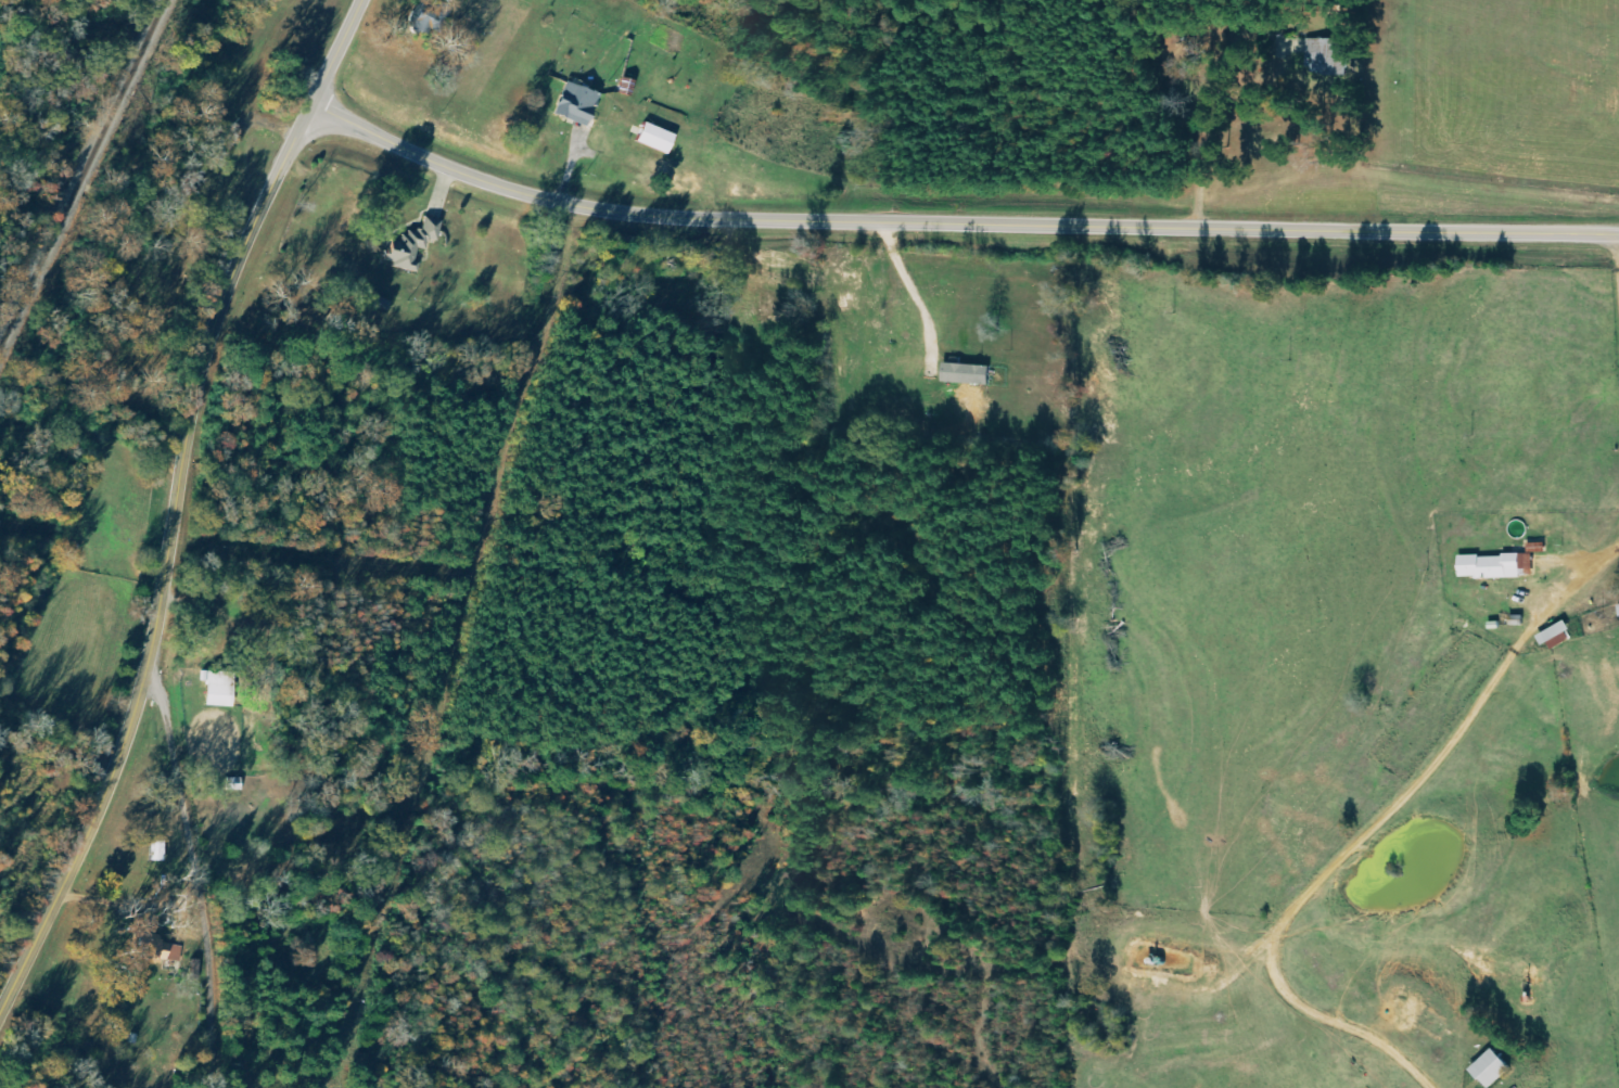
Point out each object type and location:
road: (339, 51)
building: (1324, 59)
road: (1089, 94)
building: (573, 104)
building: (651, 138)
railway: (85, 176)
road: (955, 222)
building: (417, 244)
road: (1616, 261)
road: (913, 296)
building: (964, 374)
road: (169, 565)
building: (1493, 566)
building: (1553, 636)
road: (1365, 827)
road: (163, 873)
building: (152, 947)
building: (1487, 1070)

